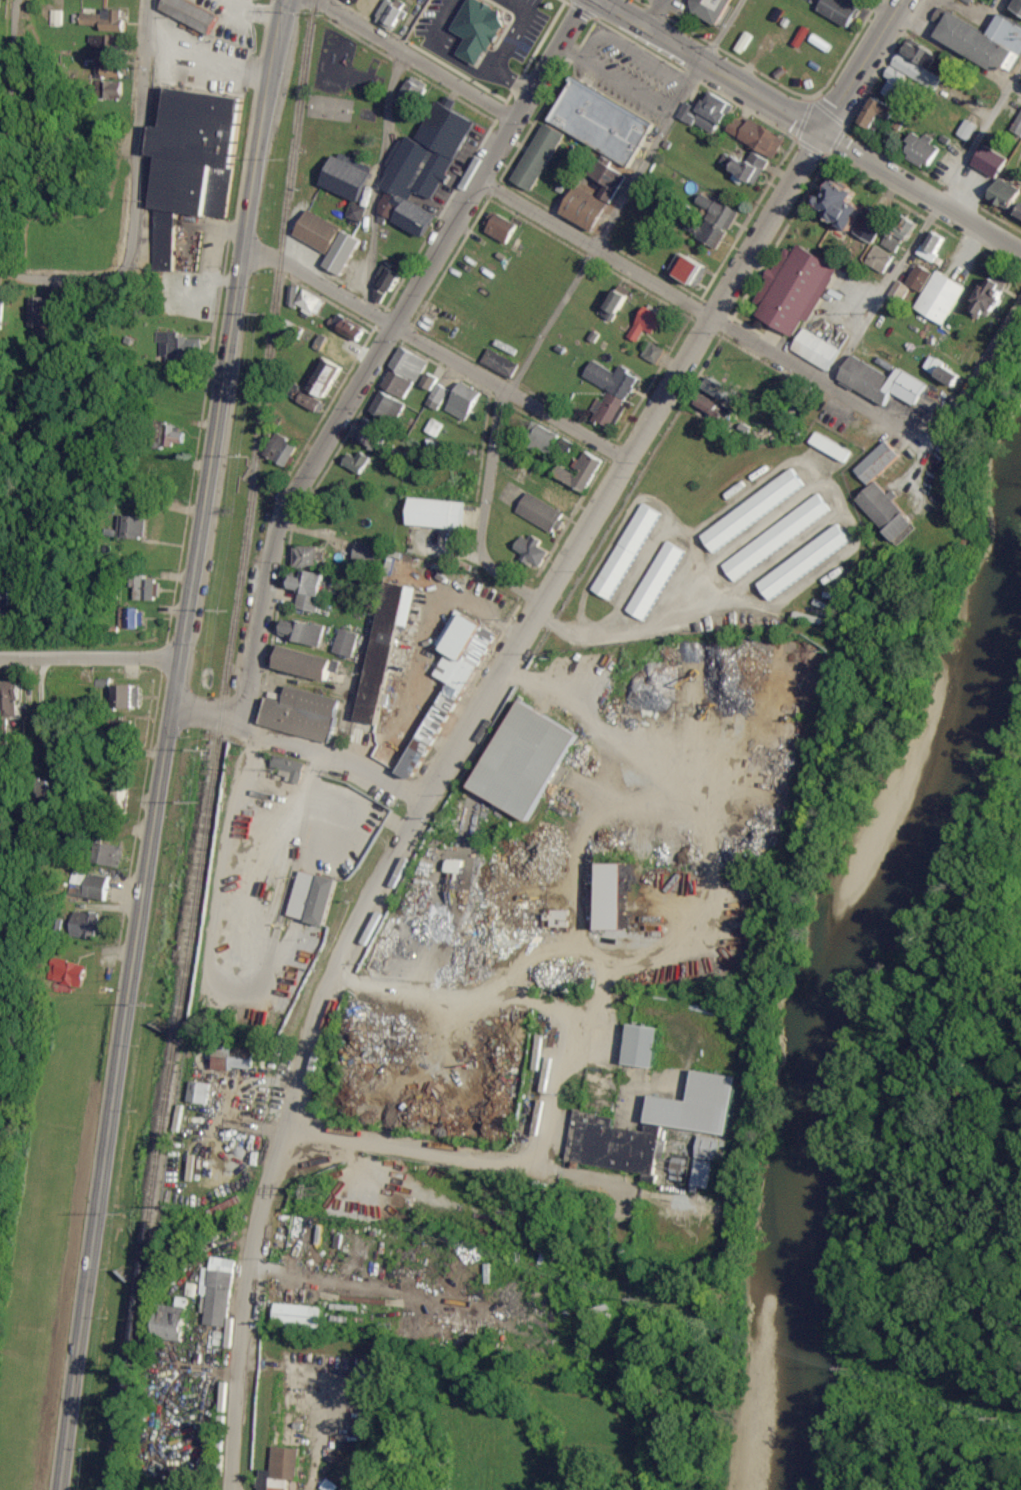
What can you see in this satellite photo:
building: (713, 6)
building: (1018, 7)
building: (839, 11)
building: (190, 14)
building: (389, 15)
building: (55, 17)
building: (105, 20)
building: (479, 30)
building: (982, 41)
building: (106, 43)
road: (946, 43)
road: (553, 59)
road: (416, 60)
road: (711, 64)
road: (861, 65)
building: (106, 70)
building: (915, 72)
building: (108, 90)
building: (410, 93)
building: (878, 113)
building: (708, 114)
building: (605, 117)
building: (1018, 126)
building: (967, 130)
road: (8, 132)
road: (139, 134)
building: (756, 137)
road: (382, 150)
road: (497, 151)
building: (922, 151)
building: (538, 156)
building: (990, 162)
building: (191, 163)
building: (423, 167)
building: (746, 169)
building: (346, 176)
building: (608, 179)
road: (921, 188)
building: (1005, 195)
road: (627, 196)
building: (840, 203)
building: (585, 207)
building: (356, 211)
building: (1019, 214)
building: (714, 220)
building: (871, 224)
building: (500, 227)
road: (927, 228)
building: (318, 230)
building: (901, 232)
building: (933, 245)
building: (342, 252)
road: (435, 254)
building: (879, 259)
building: (690, 268)
building: (920, 277)
road: (65, 281)
road: (318, 281)
building: (387, 282)
building: (795, 287)
road: (722, 293)
building: (940, 297)
building: (989, 297)
road: (684, 301)
building: (309, 302)
building: (614, 304)
building: (38, 311)
building: (1, 314)
building: (647, 322)
building: (351, 329)
building: (177, 345)
building: (816, 349)
building: (653, 352)
building: (500, 362)
building: (408, 363)
building: (323, 376)
building: (612, 378)
building: (429, 380)
building: (882, 381)
building: (397, 383)
building: (719, 387)
road: (971, 388)
road: (510, 391)
building: (437, 396)
building: (463, 400)
building: (310, 401)
building: (710, 405)
building: (387, 406)
building: (607, 409)
building: (433, 427)
building: (371, 433)
building: (170, 436)
building: (543, 438)
building: (830, 446)
building: (281, 449)
building: (357, 461)
building: (878, 462)
building: (581, 471)
road: (282, 510)
building: (753, 510)
road: (481, 511)
building: (540, 512)
building: (435, 513)
building: (888, 513)
building: (131, 527)
building: (776, 537)
building: (530, 549)
building: (627, 551)
building: (366, 552)
building: (308, 557)
building: (804, 561)
building: (656, 580)
building: (145, 588)
building: (308, 589)
building: (5, 596)
road: (712, 603)
building: (131, 618)
building: (302, 631)
building: (345, 642)
building: (384, 645)
road: (90, 655)
building: (304, 662)
building: (450, 682)
building: (127, 696)
building: (9, 698)
building: (301, 712)
road: (205, 714)
road: (166, 744)
railway: (215, 745)
road: (605, 752)
road: (337, 755)
building: (525, 760)
building: (289, 767)
building: (107, 854)
building: (96, 886)
building: (612, 896)
building: (313, 897)
building: (559, 918)
building: (84, 924)
road: (345, 945)
road: (604, 967)
building: (71, 974)
road: (464, 979)
river: (835, 989)
building: (642, 1046)
building: (232, 1058)
building: (198, 1092)
building: (653, 1126)
road: (545, 1131)
building: (707, 1148)
road: (461, 1154)
building: (701, 1174)
building: (217, 1291)
building: (297, 1315)
building: (171, 1321)
building: (281, 1470)

